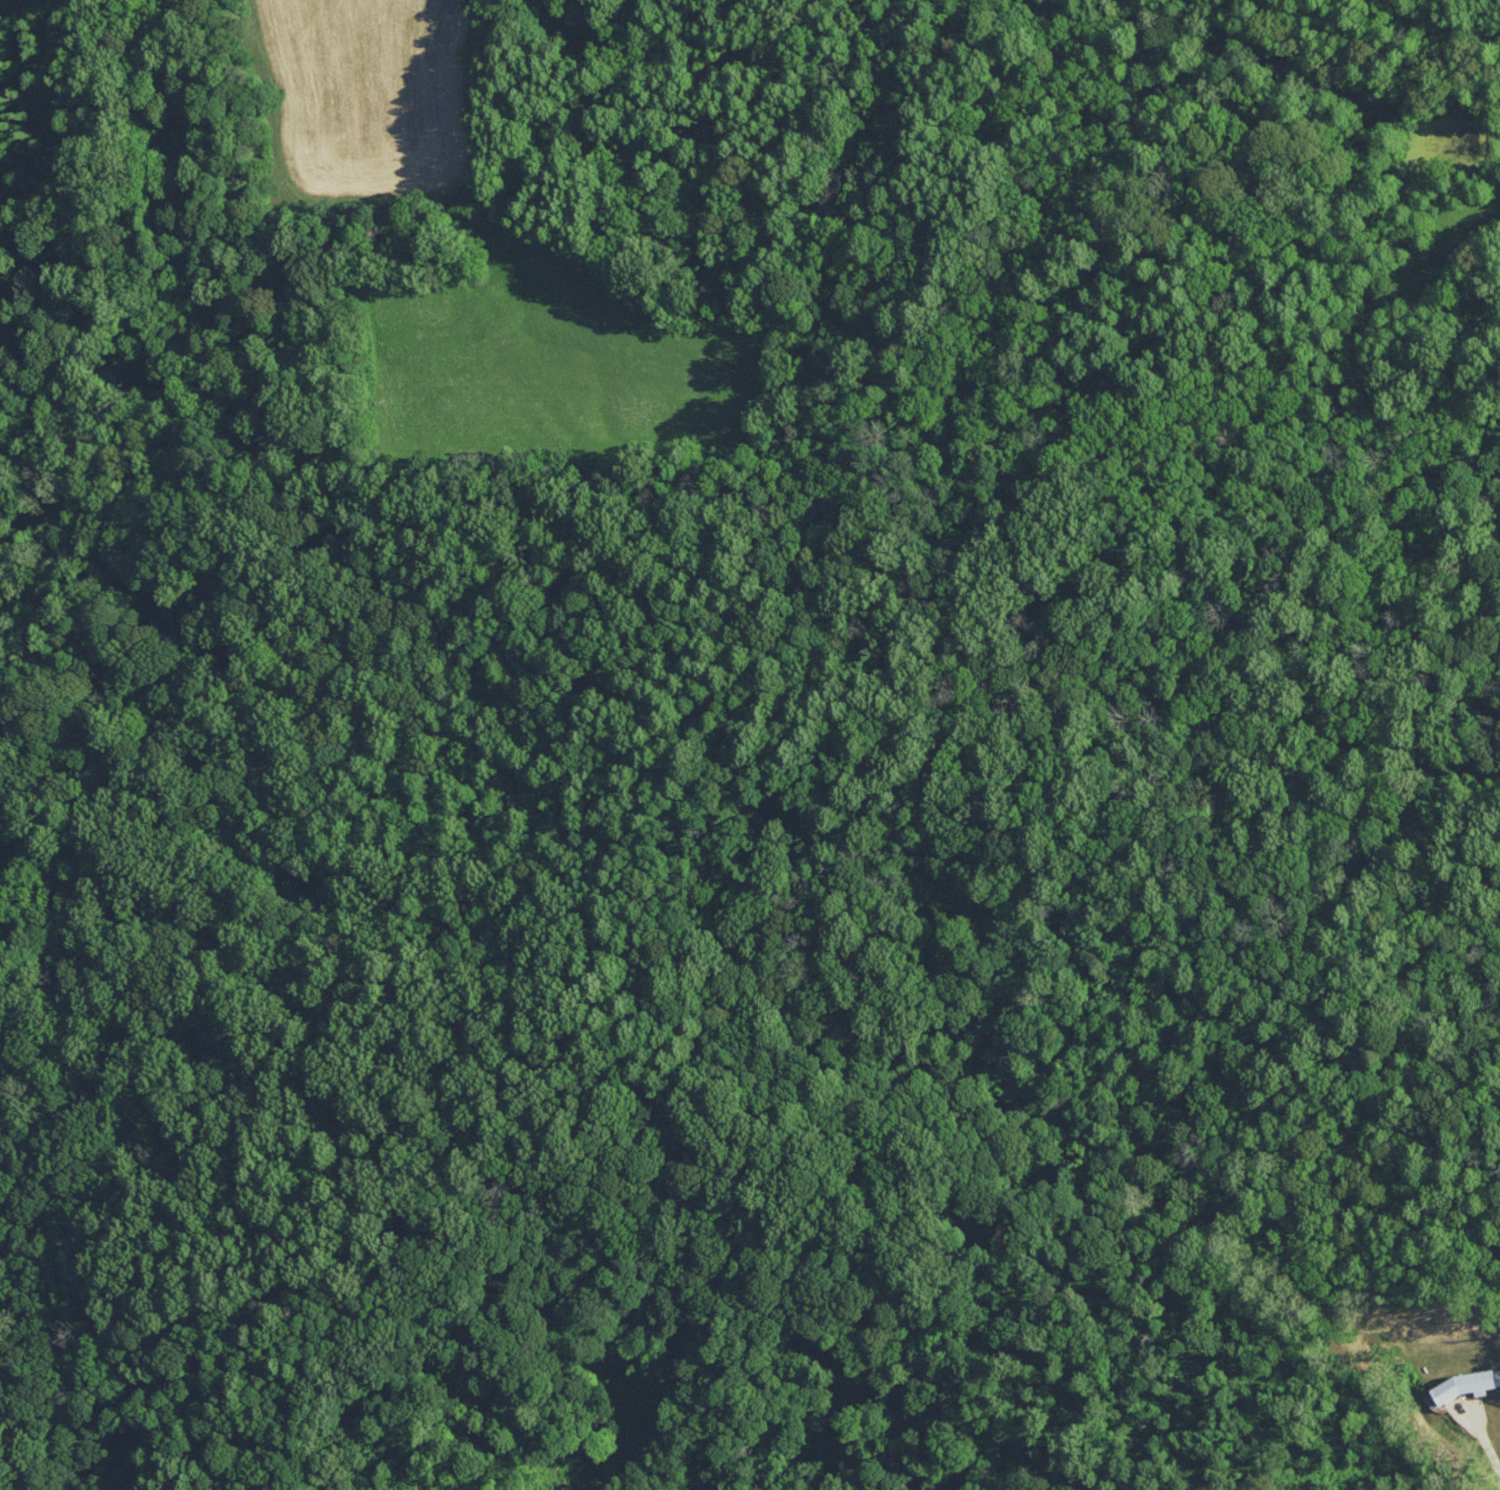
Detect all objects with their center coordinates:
building: (1466, 1383)
road: (1487, 1442)

